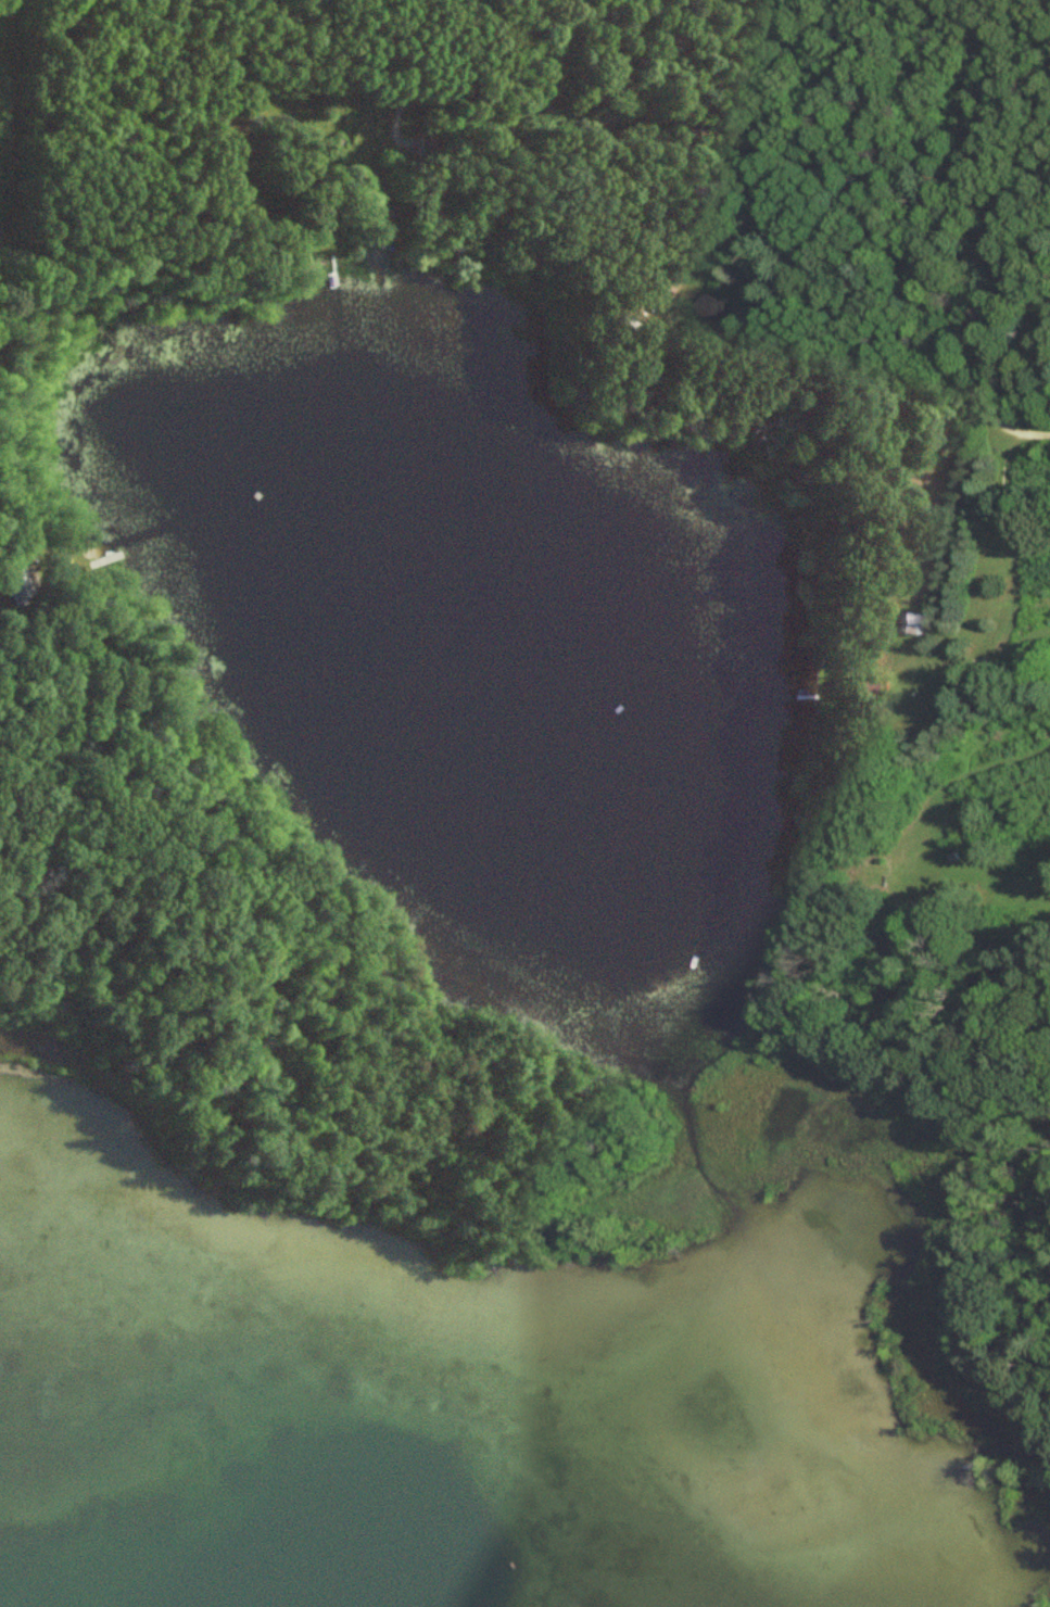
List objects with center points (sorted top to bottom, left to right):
road: (788, 154)
building: (596, 181)
building: (362, 188)
building: (909, 624)
building: (858, 688)

